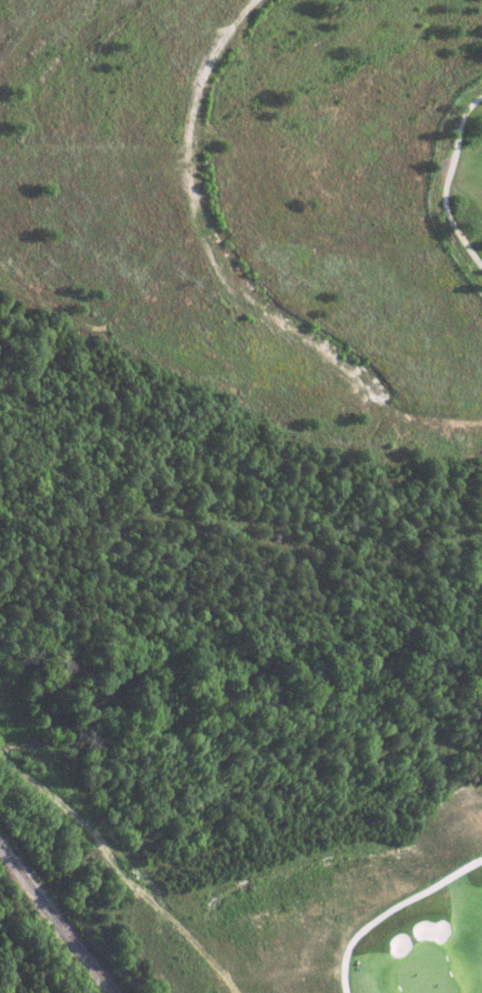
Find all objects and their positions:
park: (456, 175)
road: (445, 182)
park: (279, 780)
road: (389, 908)
railway: (57, 920)

